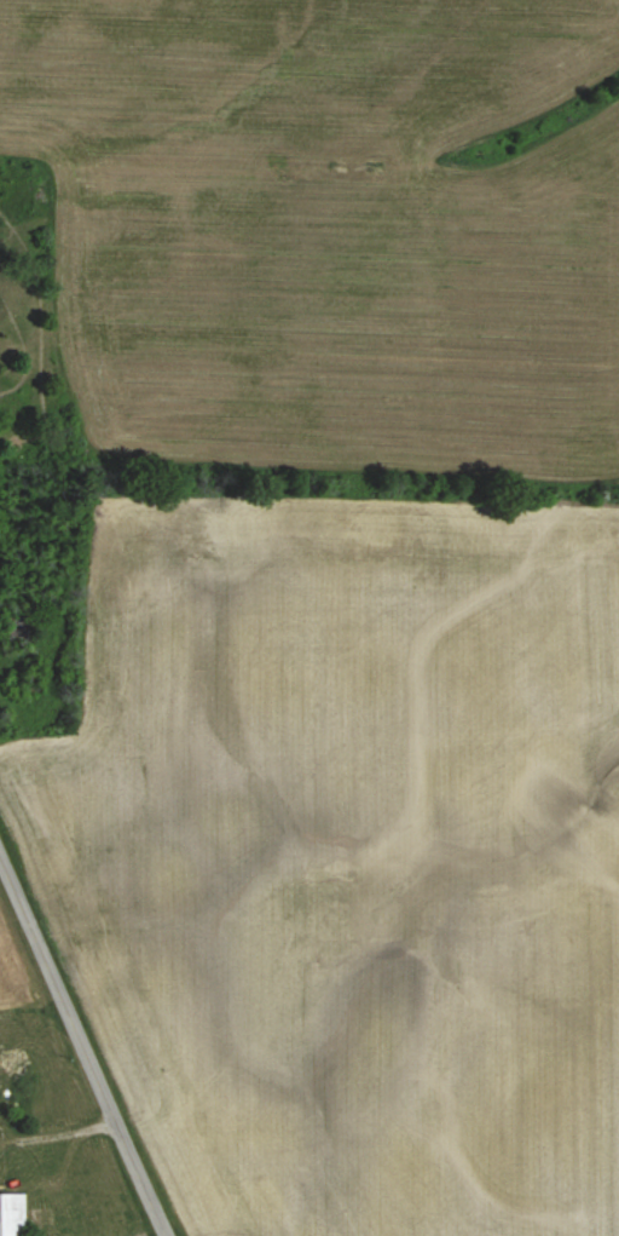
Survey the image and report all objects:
road: (79, 1053)
building: (13, 1214)

